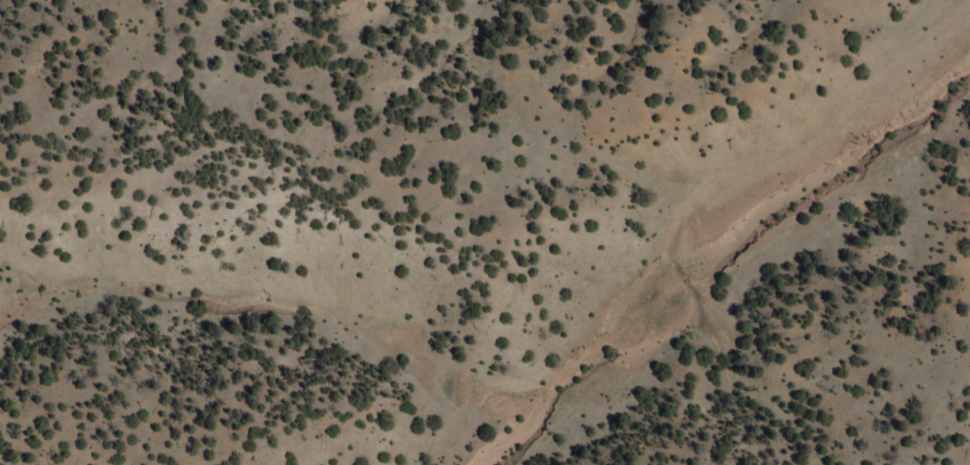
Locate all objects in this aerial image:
dam: (693, 288)

